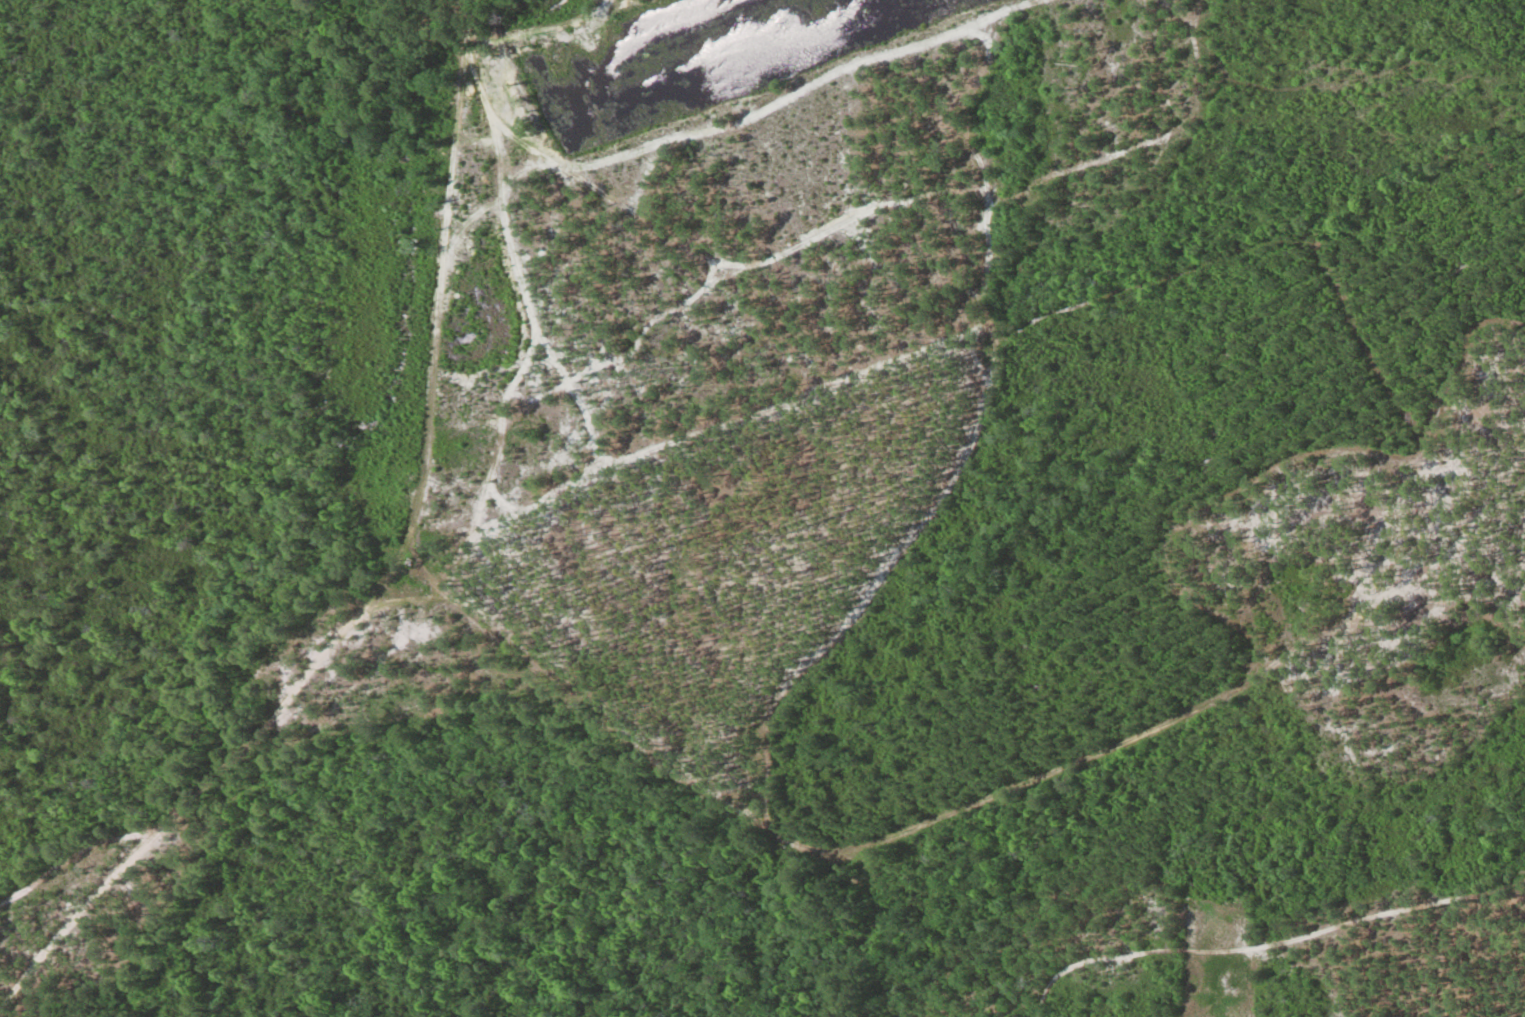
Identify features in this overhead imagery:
road: (427, 555)
road: (1268, 943)

